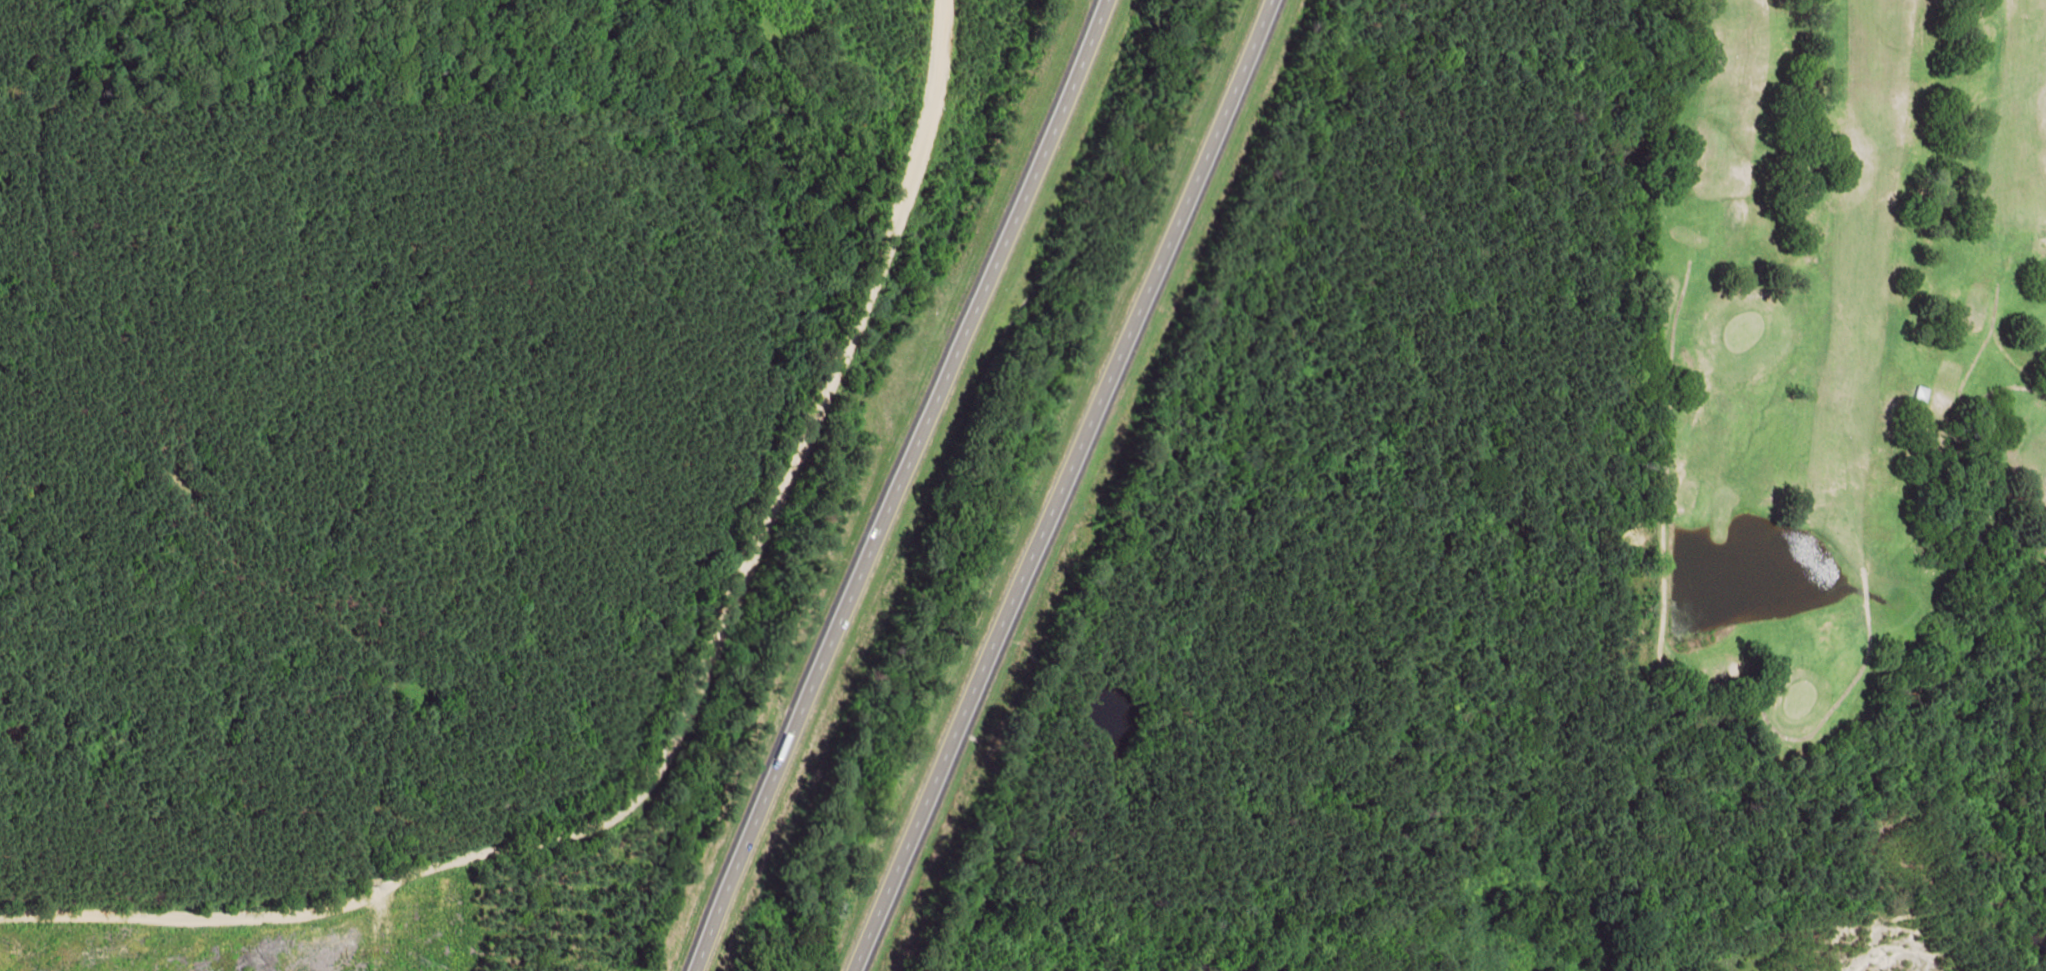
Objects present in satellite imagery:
building: (1913, 393)
road: (1056, 484)
road: (899, 486)
road: (634, 664)

